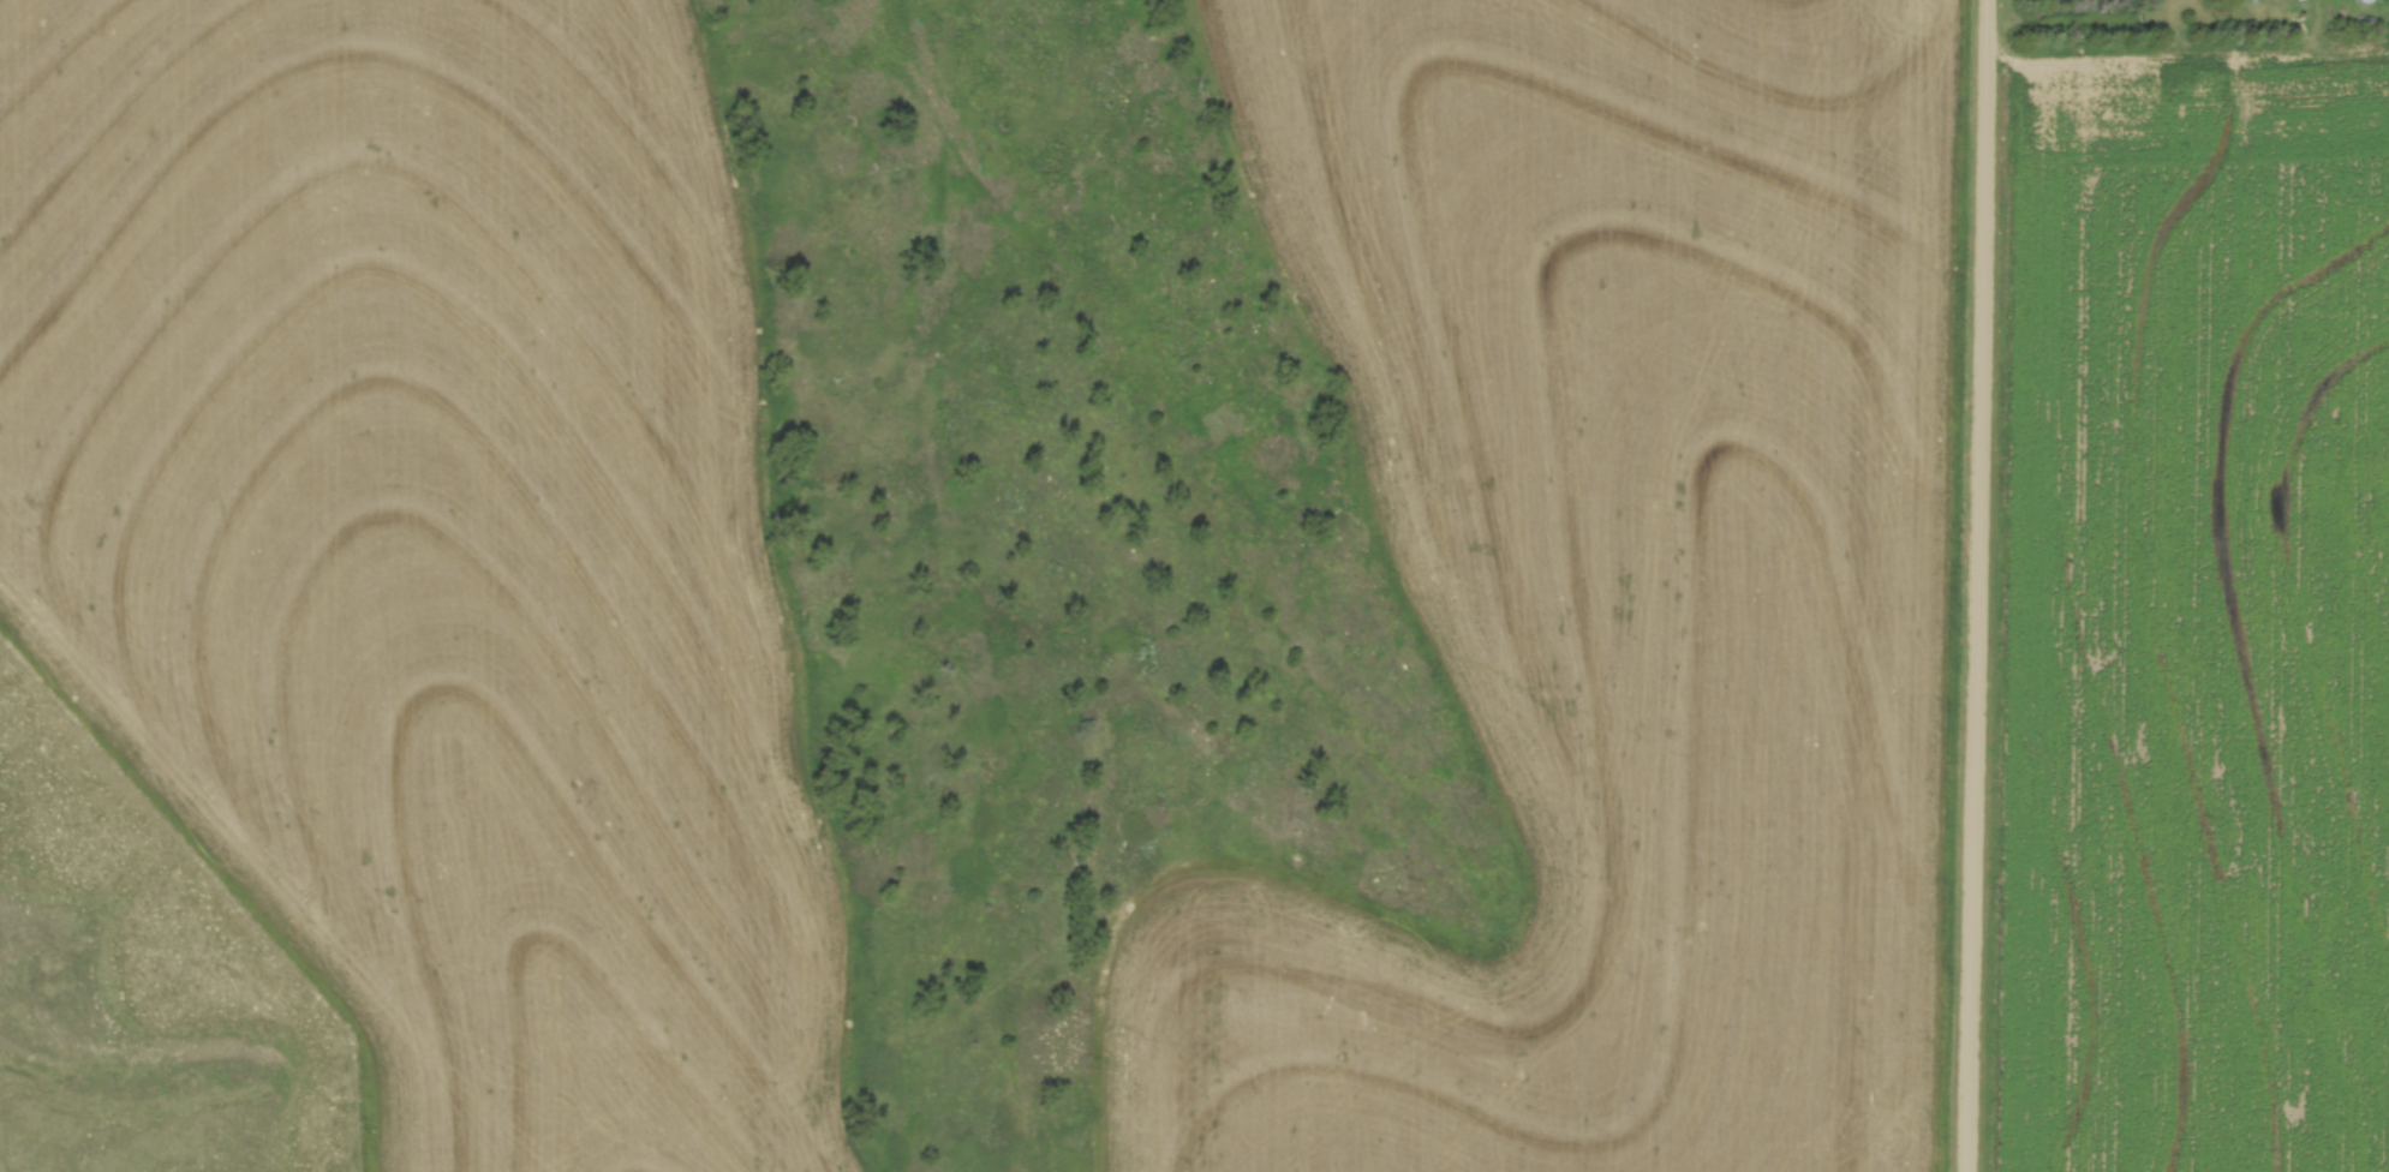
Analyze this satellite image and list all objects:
building: (2365, 0)
road: (2181, 59)
road: (1975, 586)

